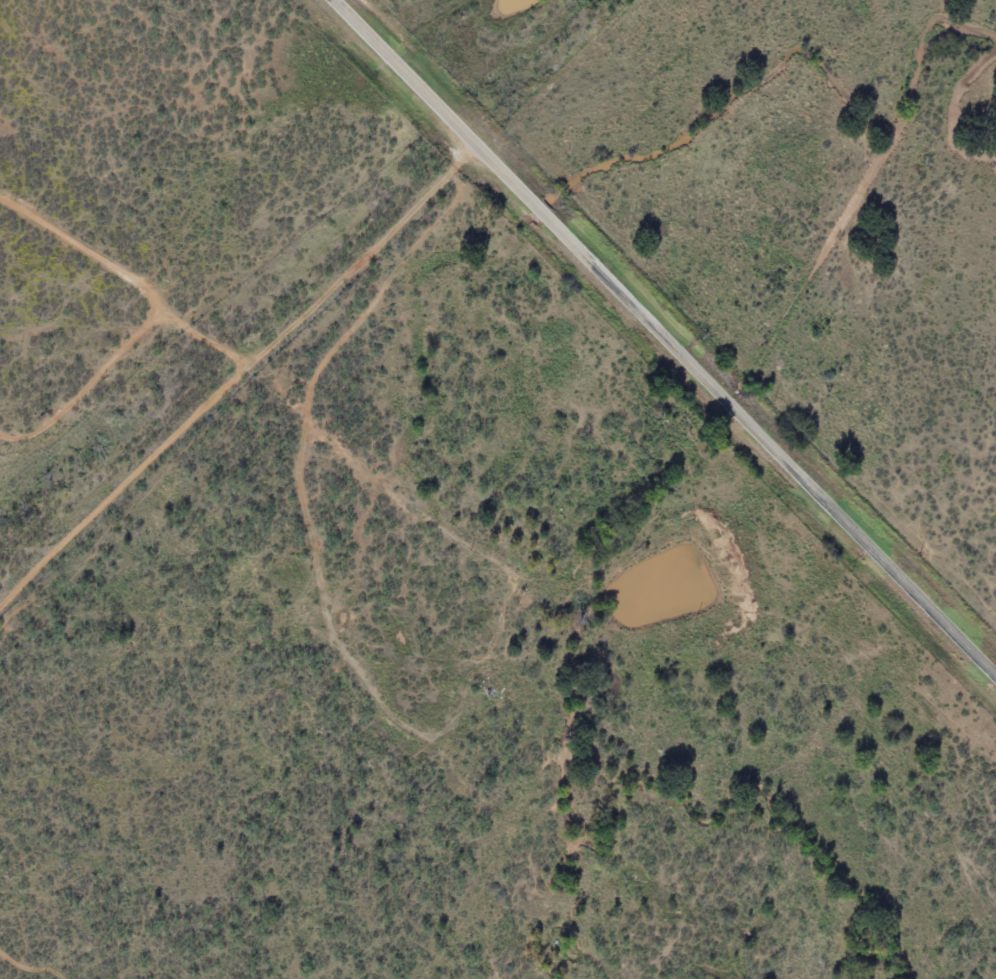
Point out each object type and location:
road: (663, 339)

